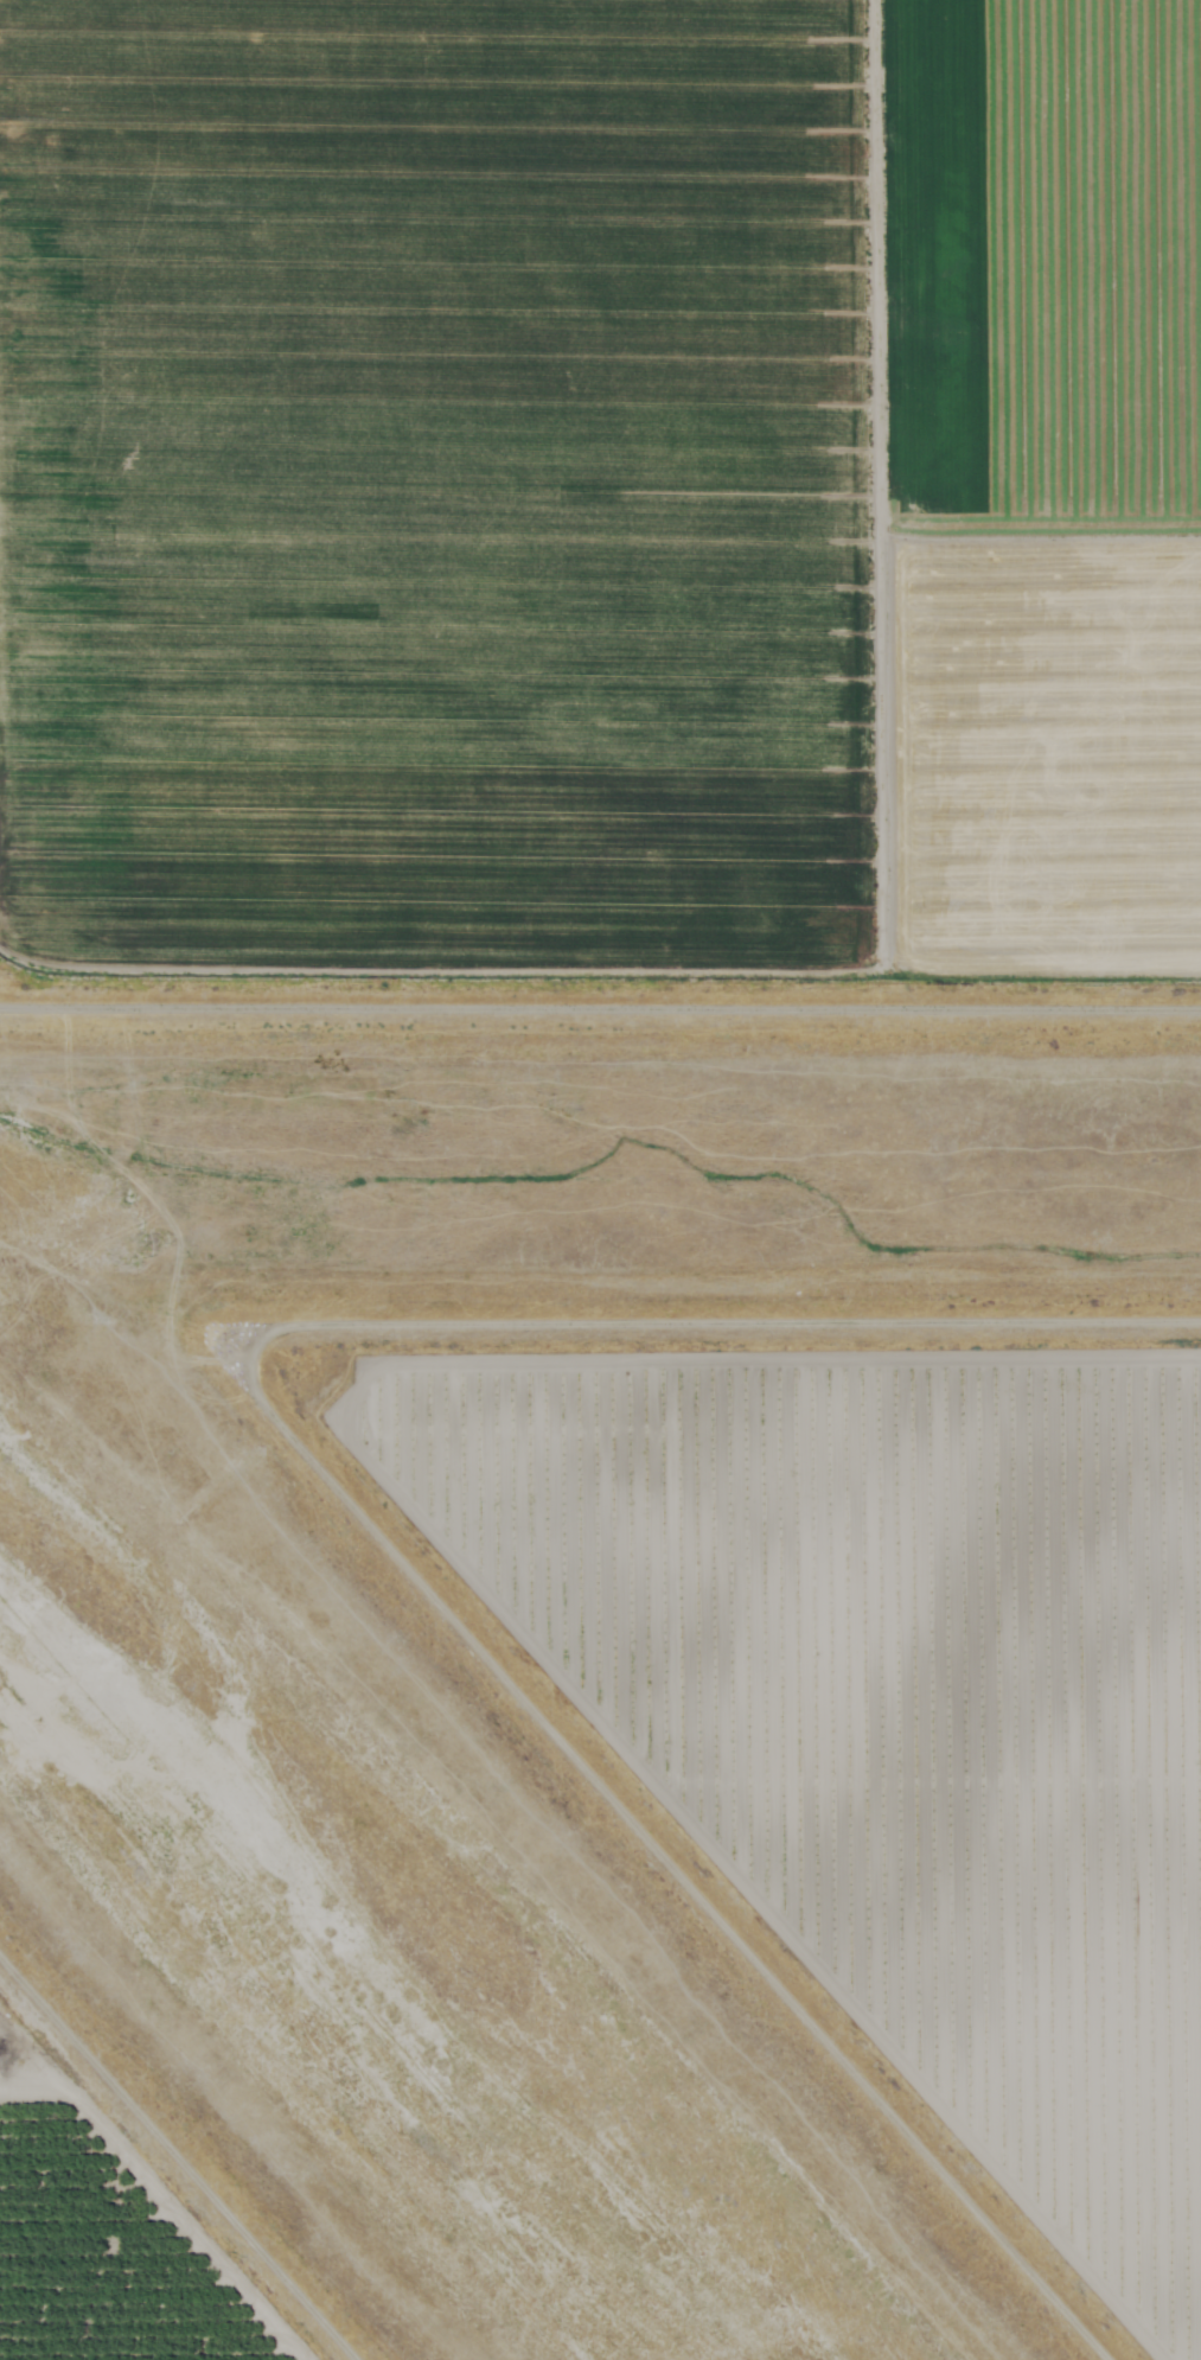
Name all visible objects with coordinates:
crop: (600, 502)
road: (734, 1321)
crop: (868, 1694)
crop: (117, 2243)

